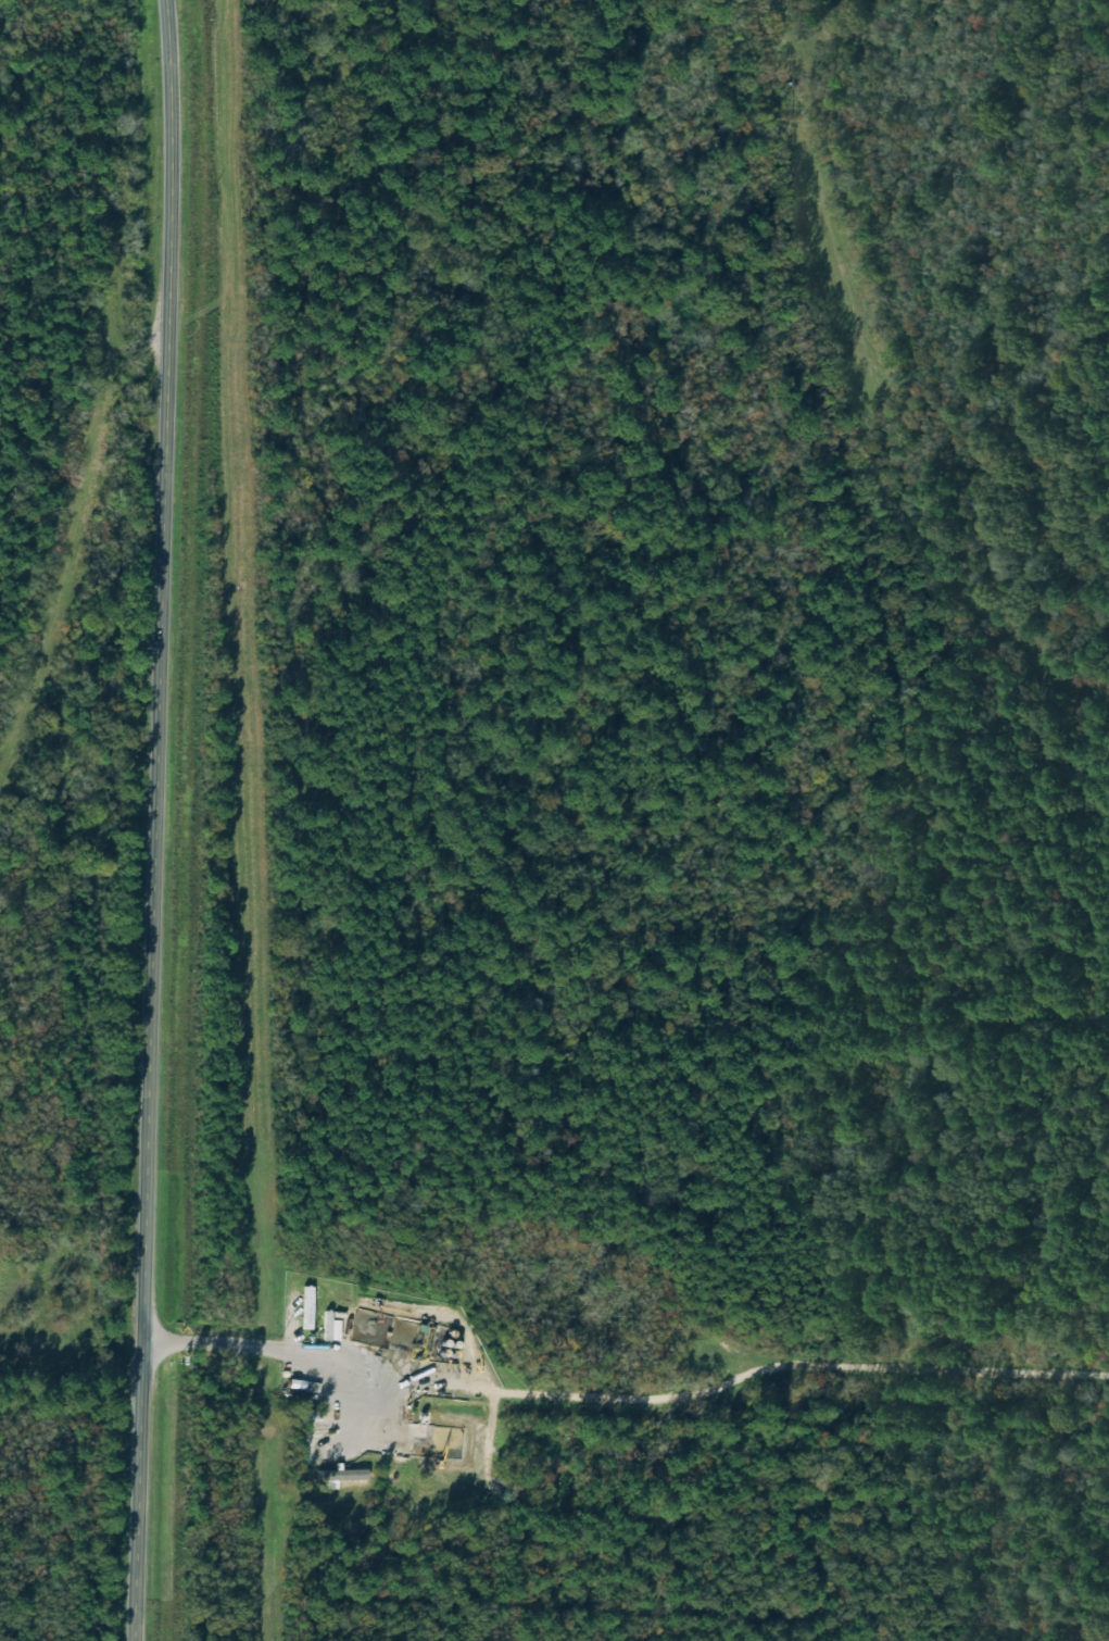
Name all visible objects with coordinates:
road: (172, 162)
airport runway: (820, 198)
road: (68, 533)
road: (153, 984)
building: (314, 1299)
road: (262, 1339)
building: (316, 1436)

